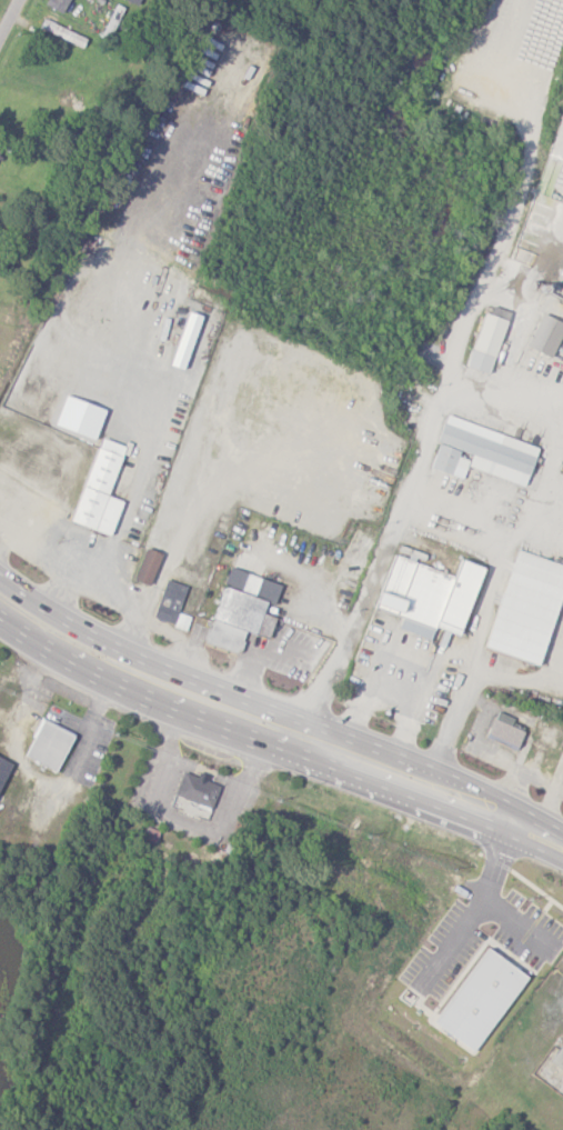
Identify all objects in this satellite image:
building: (135, 1)
building: (59, 4)
road: (8, 16)
building: (546, 336)
building: (486, 344)
road: (554, 431)
building: (483, 453)
road: (416, 456)
building: (100, 490)
road: (122, 519)
road: (182, 530)
building: (148, 568)
road: (109, 589)
building: (429, 597)
building: (172, 606)
building: (527, 609)
building: (242, 610)
road: (181, 634)
road: (20, 636)
road: (476, 637)
road: (141, 653)
road: (263, 653)
road: (220, 656)
road: (139, 687)
road: (449, 719)
road: (406, 728)
building: (504, 732)
building: (49, 743)
building: (3, 769)
road: (429, 780)
building: (198, 789)
building: (509, 958)
building: (480, 1000)
building: (559, 1058)

